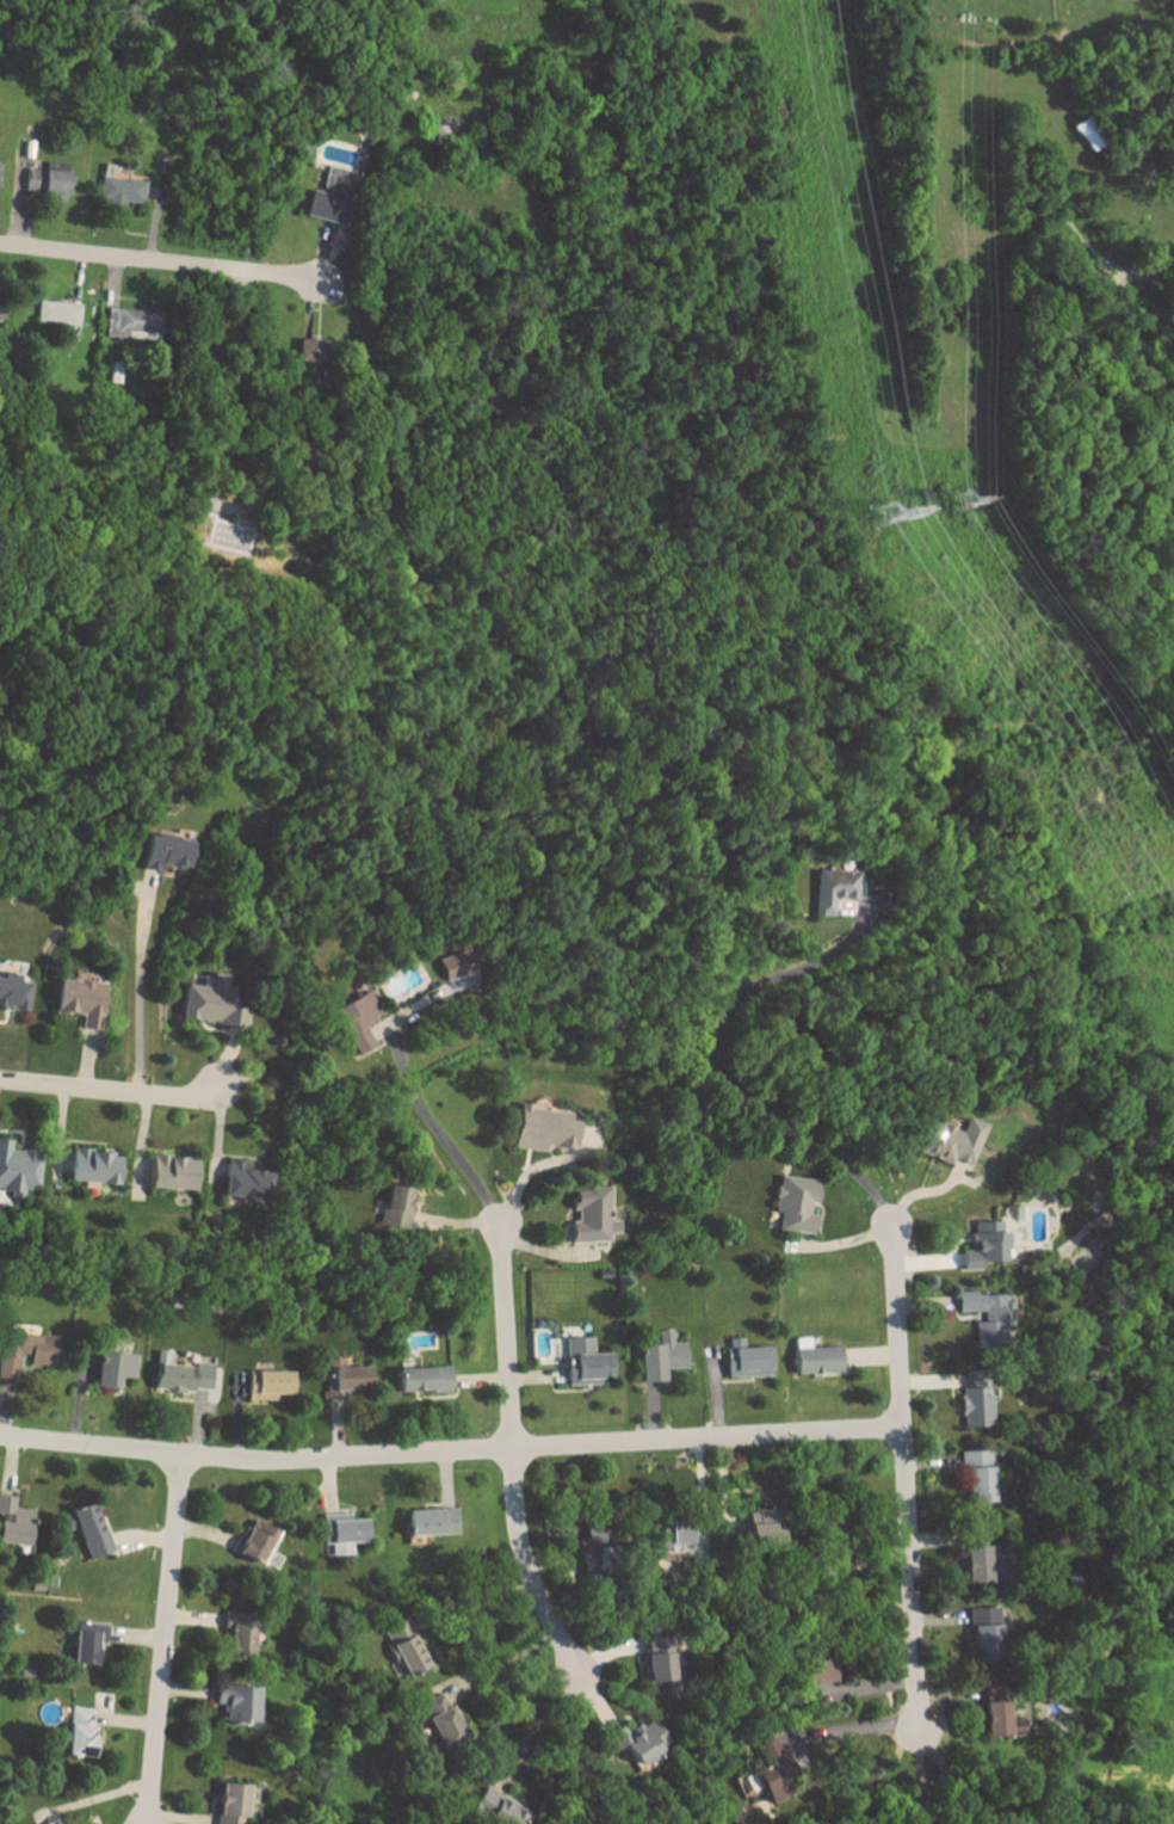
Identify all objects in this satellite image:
road: (384, 45)
building: (44, 179)
building: (121, 189)
building: (330, 193)
road: (162, 260)
road: (1153, 307)
building: (57, 312)
building: (130, 322)
building: (316, 350)
road: (235, 368)
power tower: (962, 500)
power tower: (883, 513)
building: (162, 851)
building: (829, 887)
building: (455, 963)
road: (135, 991)
building: (12, 992)
building: (79, 1000)
building: (209, 1002)
building: (354, 1021)
road: (716, 1071)
road: (109, 1086)
building: (540, 1128)
road: (438, 1136)
building: (951, 1141)
building: (92, 1166)
building: (18, 1169)
building: (171, 1172)
building: (242, 1181)
building: (395, 1198)
building: (793, 1209)
building: (589, 1215)
building: (984, 1244)
building: (984, 1317)
road: (506, 1338)
building: (25, 1351)
building: (660, 1356)
building: (744, 1358)
building: (815, 1358)
building: (583, 1362)
building: (112, 1368)
building: (345, 1378)
building: (421, 1379)
building: (267, 1384)
building: (972, 1403)
road: (450, 1453)
building: (977, 1474)
road: (903, 1480)
building: (13, 1522)
building: (430, 1522)
building: (758, 1529)
building: (88, 1530)
building: (671, 1533)
building: (341, 1534)
building: (253, 1541)
building: (591, 1548)
building: (985, 1567)
road: (523, 1569)
road: (471, 1600)
building: (985, 1632)
road: (162, 1639)
building: (236, 1640)
building: (85, 1644)
building: (402, 1649)
building: (656, 1658)
road: (500, 1663)
building: (817, 1672)
building: (236, 1705)
building: (996, 1709)
road: (536, 1721)
building: (443, 1726)
road: (852, 1729)
building: (79, 1732)
building: (639, 1738)
building: (774, 1779)
road: (921, 1779)
road: (957, 1787)
building: (229, 1804)
building: (494, 1810)

